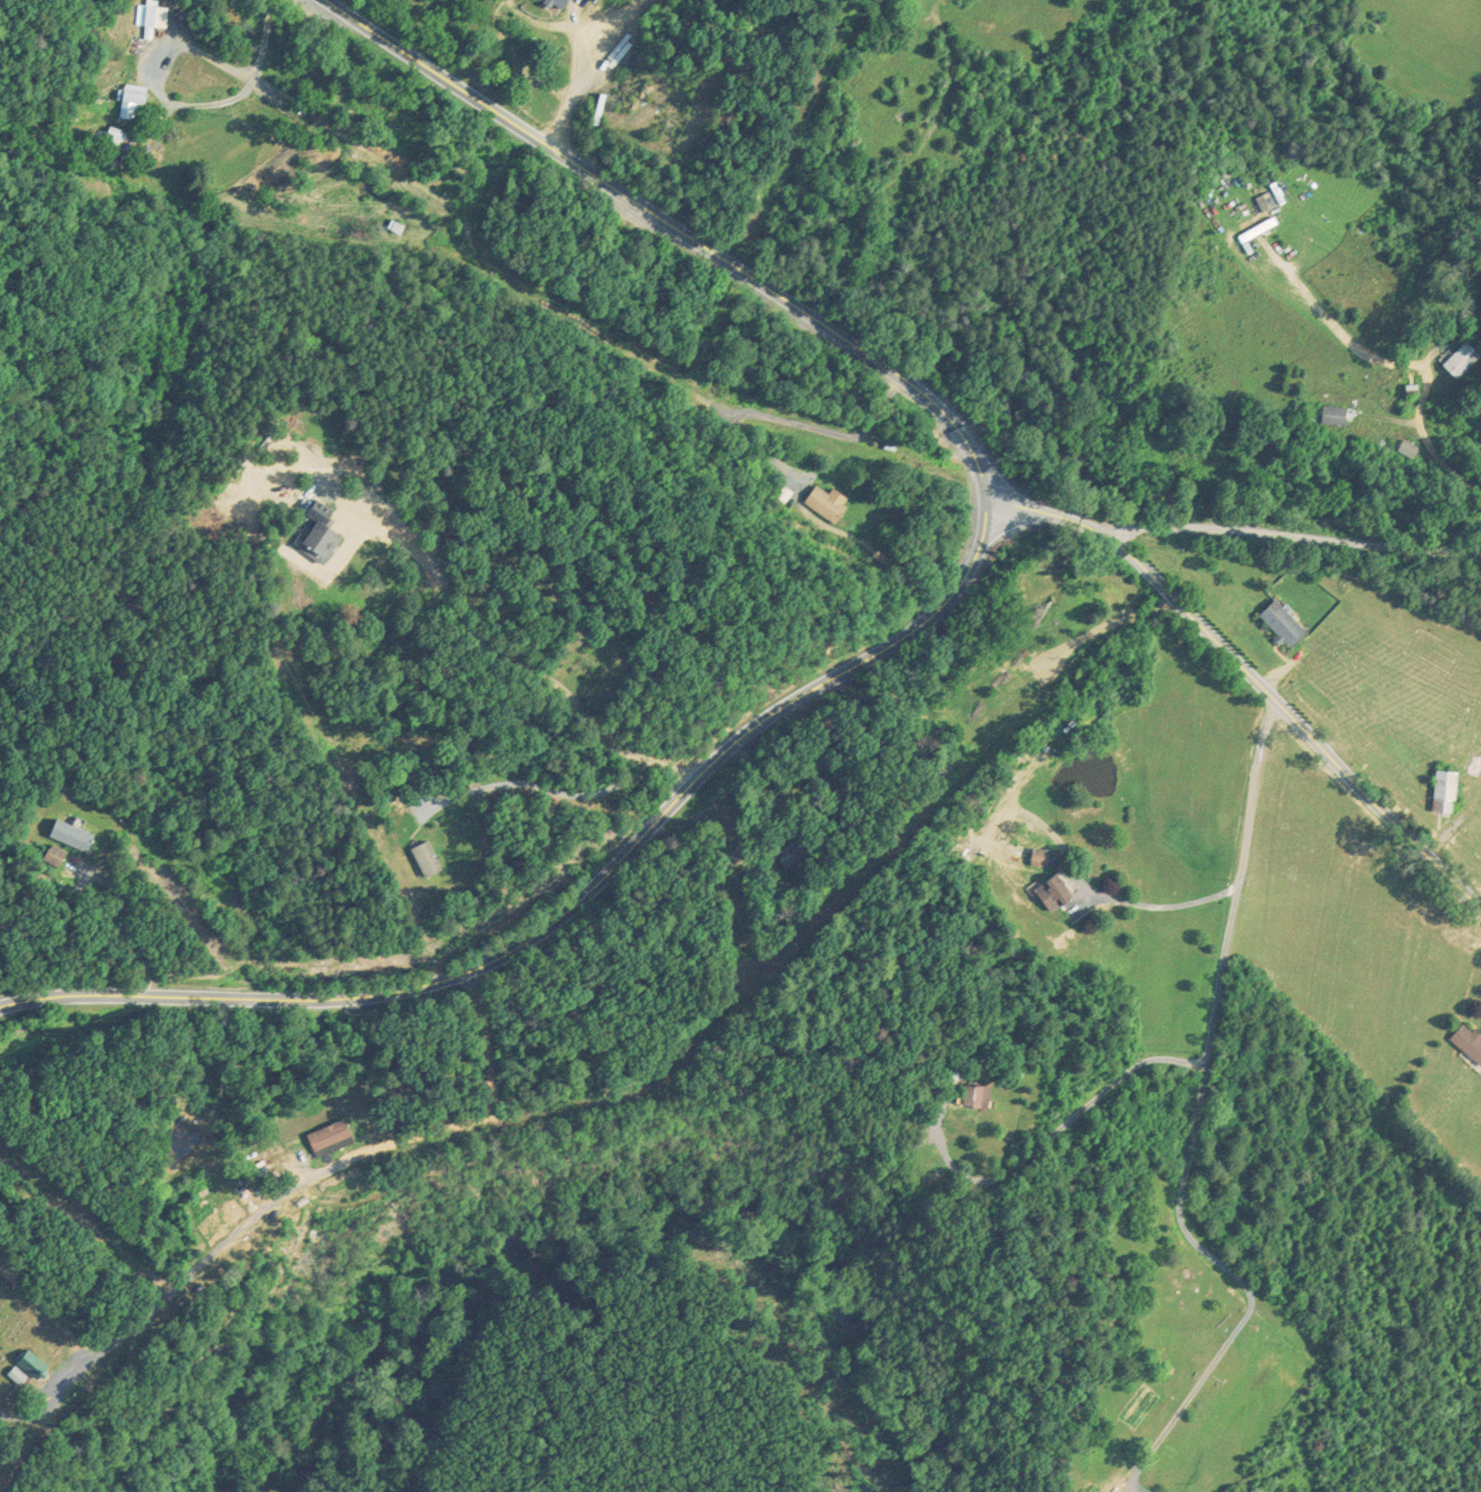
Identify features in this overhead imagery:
building: (557, 2)
building: (147, 19)
road: (264, 35)
road: (589, 69)
road: (152, 79)
building: (128, 99)
building: (111, 137)
building: (1263, 199)
building: (1248, 231)
building: (1458, 357)
building: (1335, 413)
building: (824, 505)
road: (1051, 515)
building: (315, 535)
road: (1290, 535)
building: (1279, 621)
road: (7, 630)
road: (900, 636)
building: (1026, 636)
road: (1292, 718)
building: (1473, 763)
building: (1442, 789)
building: (793, 854)
building: (1036, 856)
building: (423, 857)
building: (1055, 888)
road: (1161, 904)
road: (1, 999)
building: (1467, 1042)
building: (973, 1094)
road: (1192, 1115)
building: (326, 1137)
road: (162, 1291)
building: (26, 1362)
building: (11, 1375)

